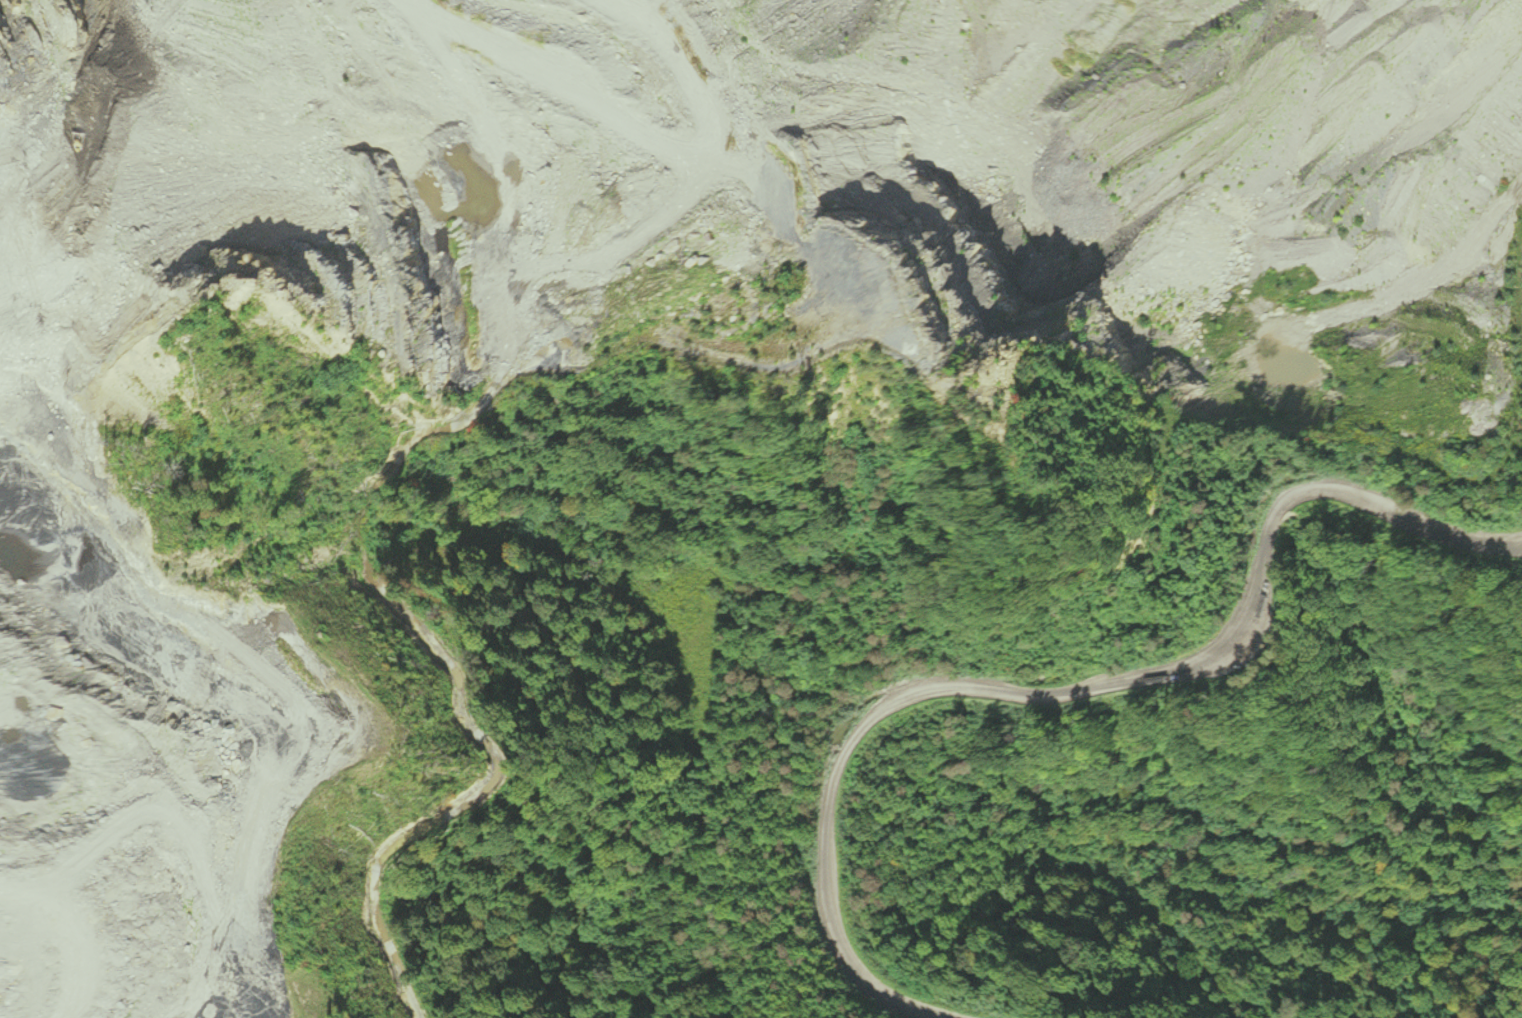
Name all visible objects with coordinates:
quarry: (605, 340)

